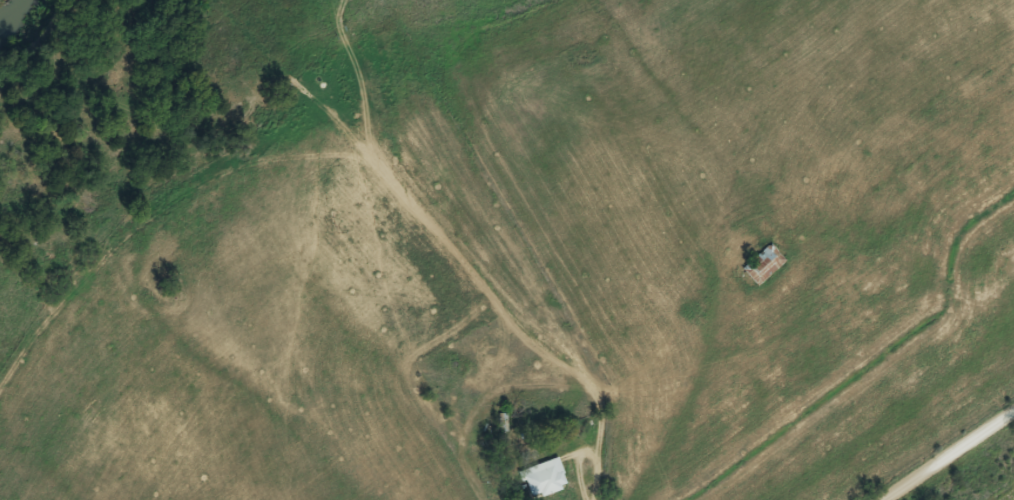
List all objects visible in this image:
river: (14, 18)
building: (760, 265)
road: (949, 456)
building: (540, 479)
railway: (1008, 496)

